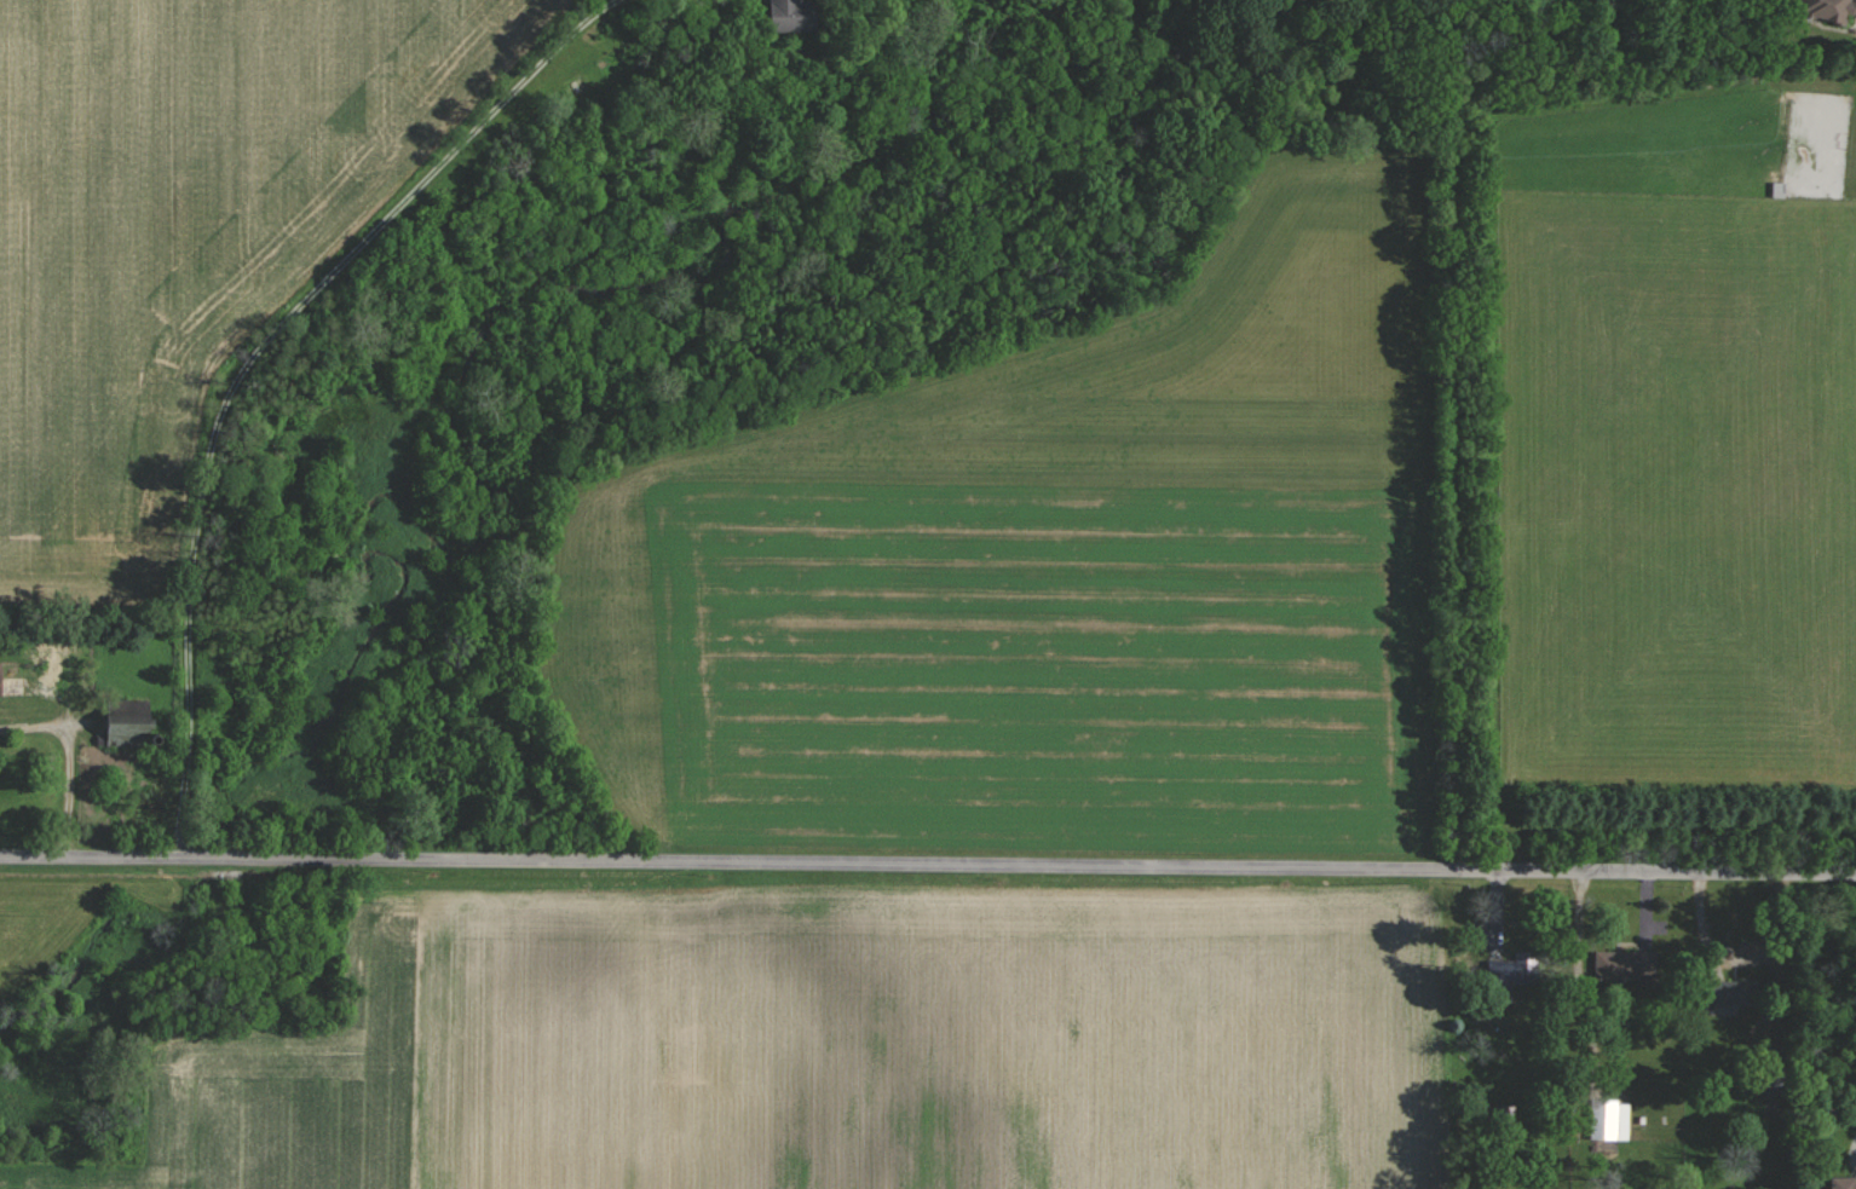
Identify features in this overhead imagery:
building: (1834, 10)
building: (795, 16)
road: (252, 358)
building: (1, 682)
building: (133, 731)
road: (928, 864)
building: (1627, 965)
building: (1516, 970)
building: (1739, 993)
building: (1612, 1119)
building: (1844, 1182)

